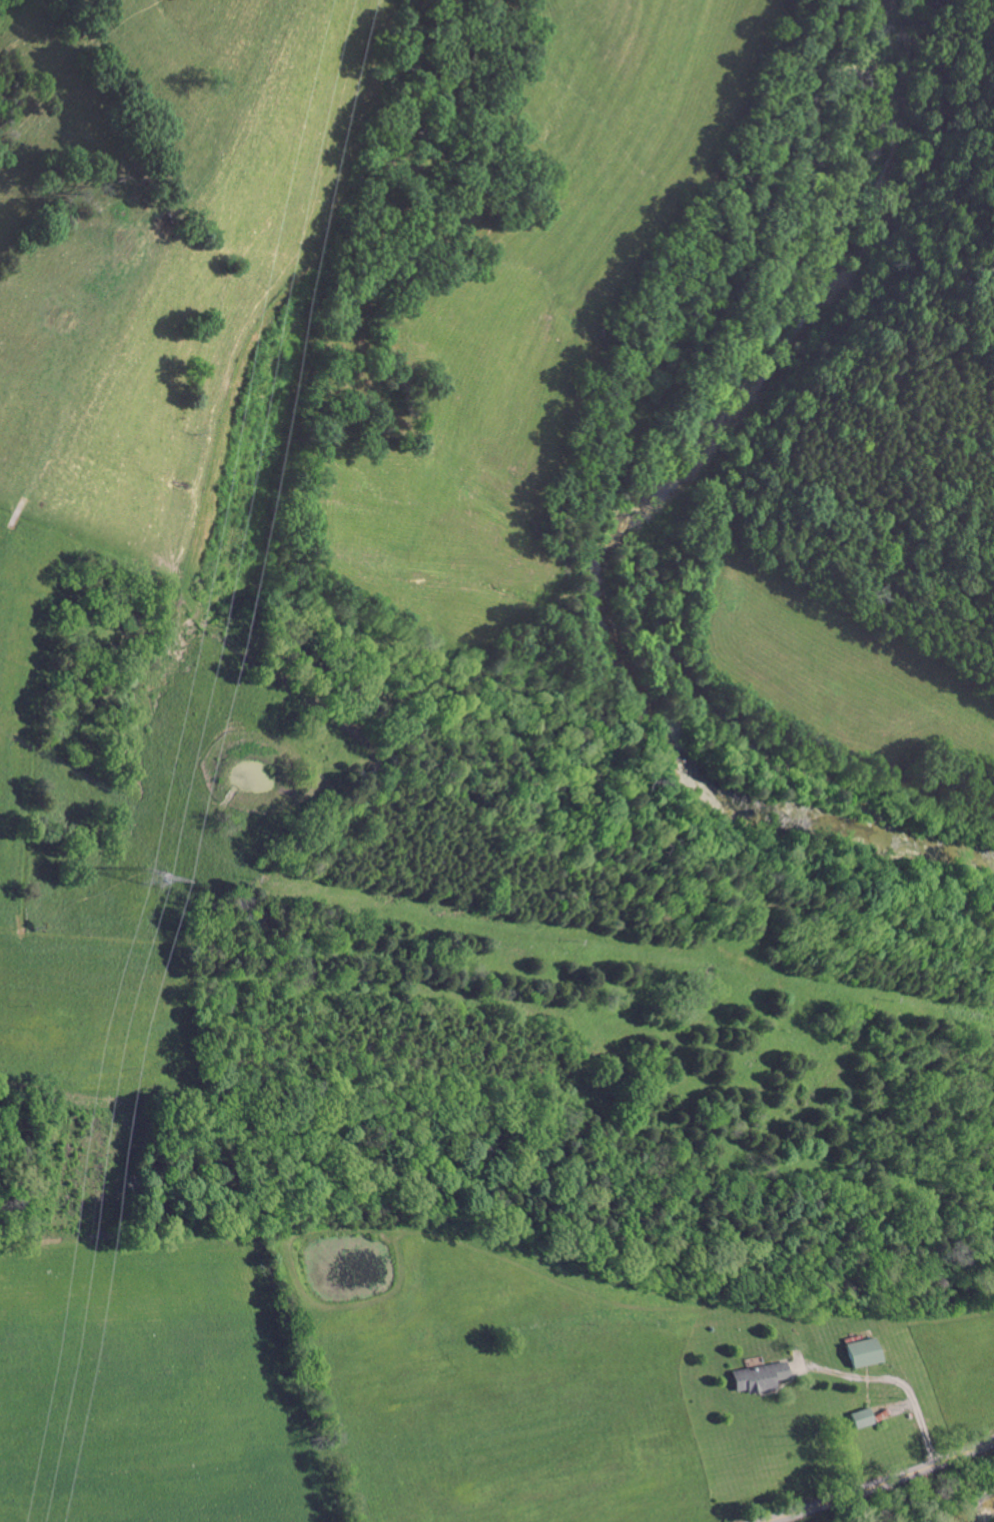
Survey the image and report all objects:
power tower: (157, 878)
building: (914, 1332)
building: (808, 1357)
road: (899, 1379)
building: (908, 1398)
road: (883, 1484)

